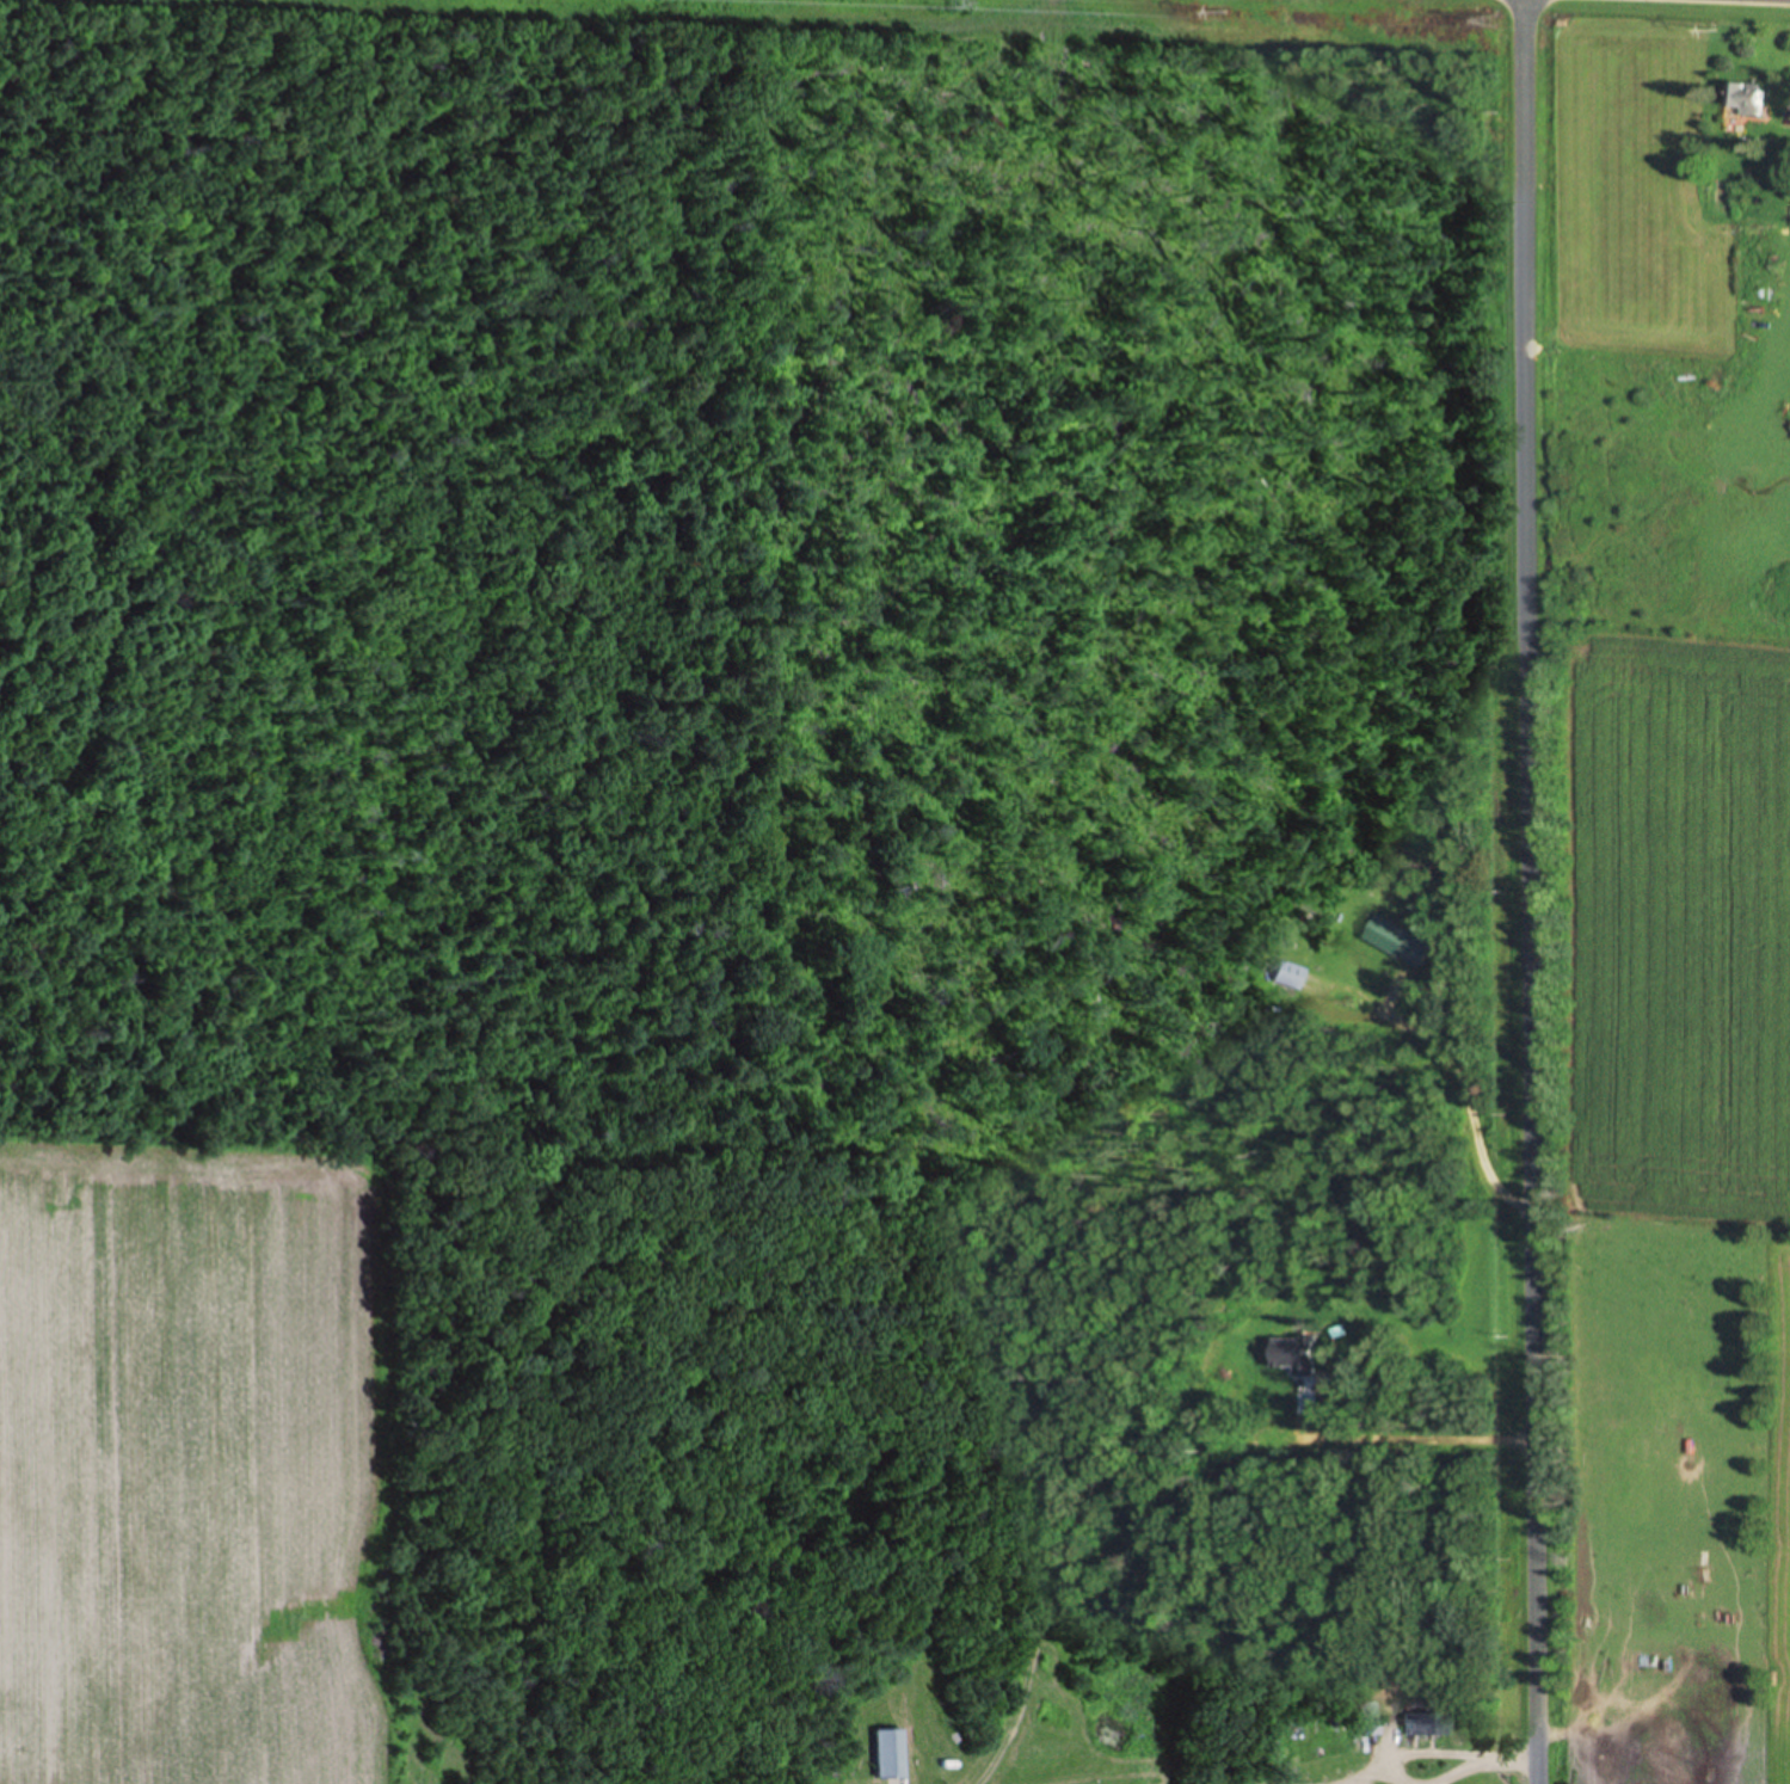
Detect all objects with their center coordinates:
power tower: (954, 2)
power tower: (1487, 23)
building: (1742, 100)
road: (1520, 891)
building: (1396, 942)
building: (1287, 977)
building: (1291, 1357)
building: (1585, 1712)
building: (1364, 1720)
building: (1420, 1724)
building: (1329, 1727)
building: (882, 1754)

